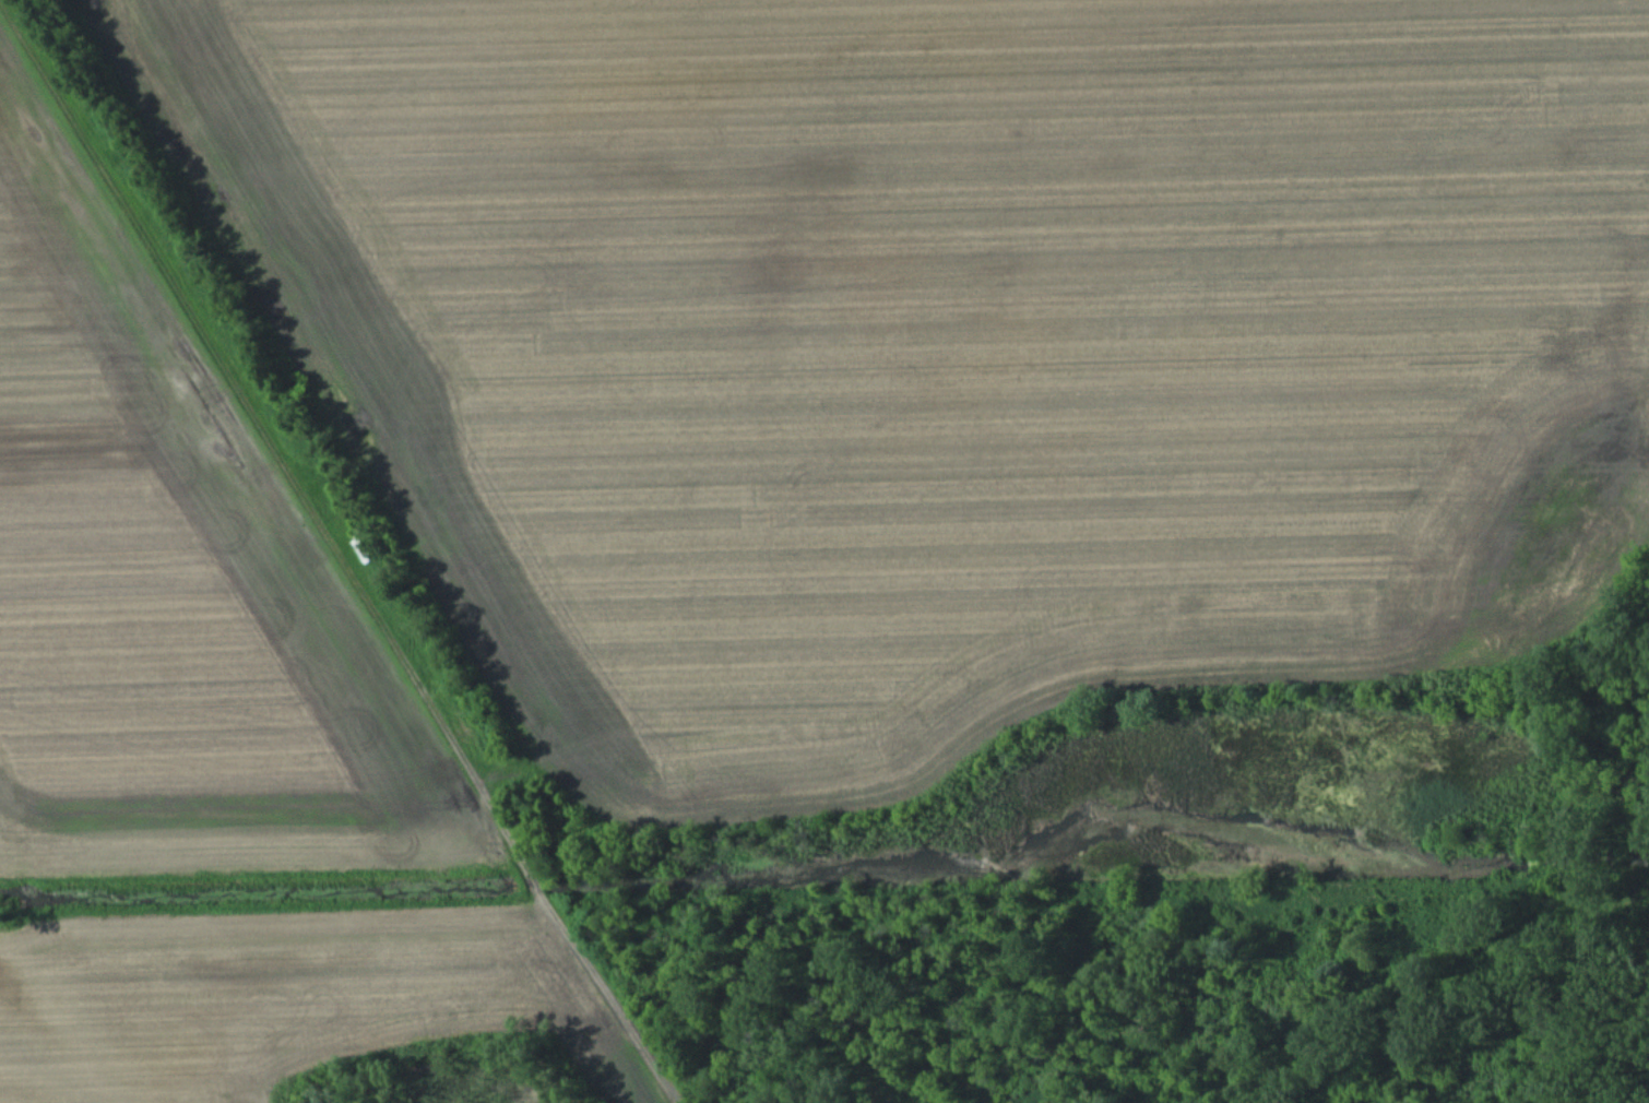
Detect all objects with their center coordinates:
building: (360, 550)
road: (1487, 896)

